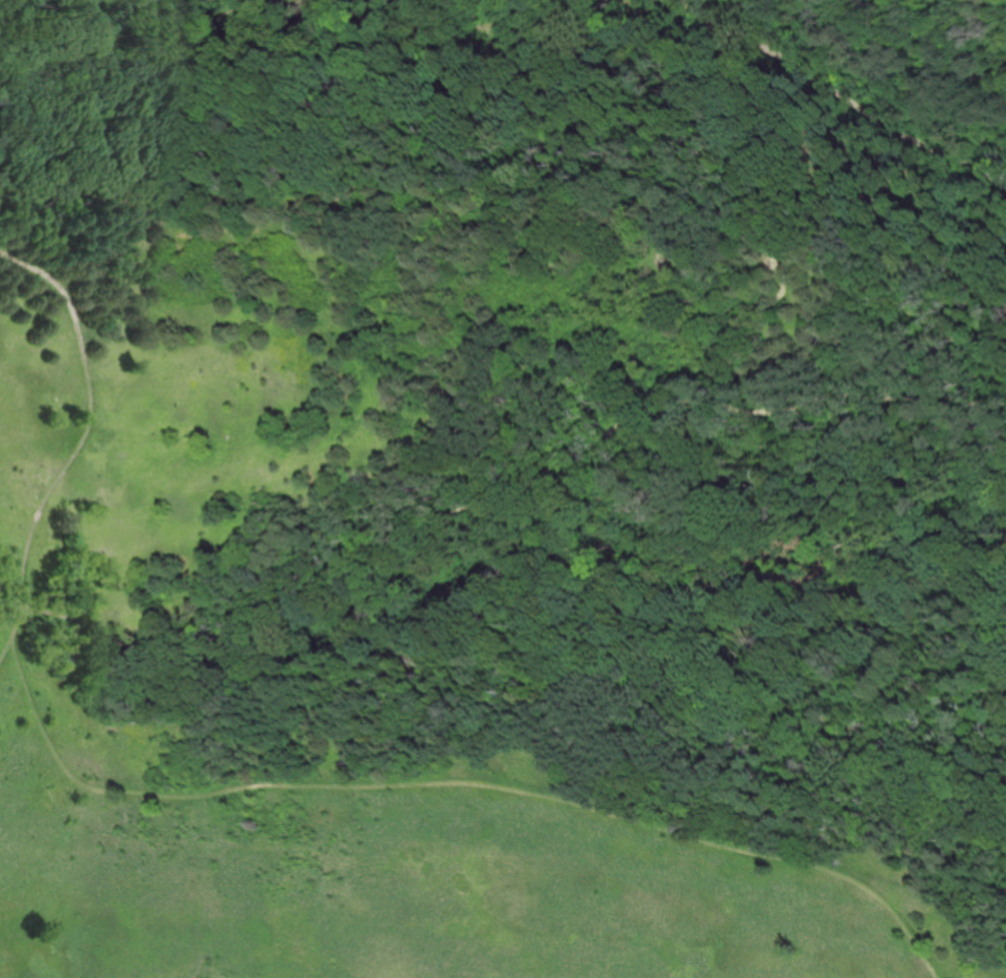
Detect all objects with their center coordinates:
road: (638, 5)
road: (919, 47)
road: (846, 91)
road: (375, 189)
road: (834, 410)
road: (79, 446)
park: (503, 489)
road: (360, 568)
road: (455, 782)

